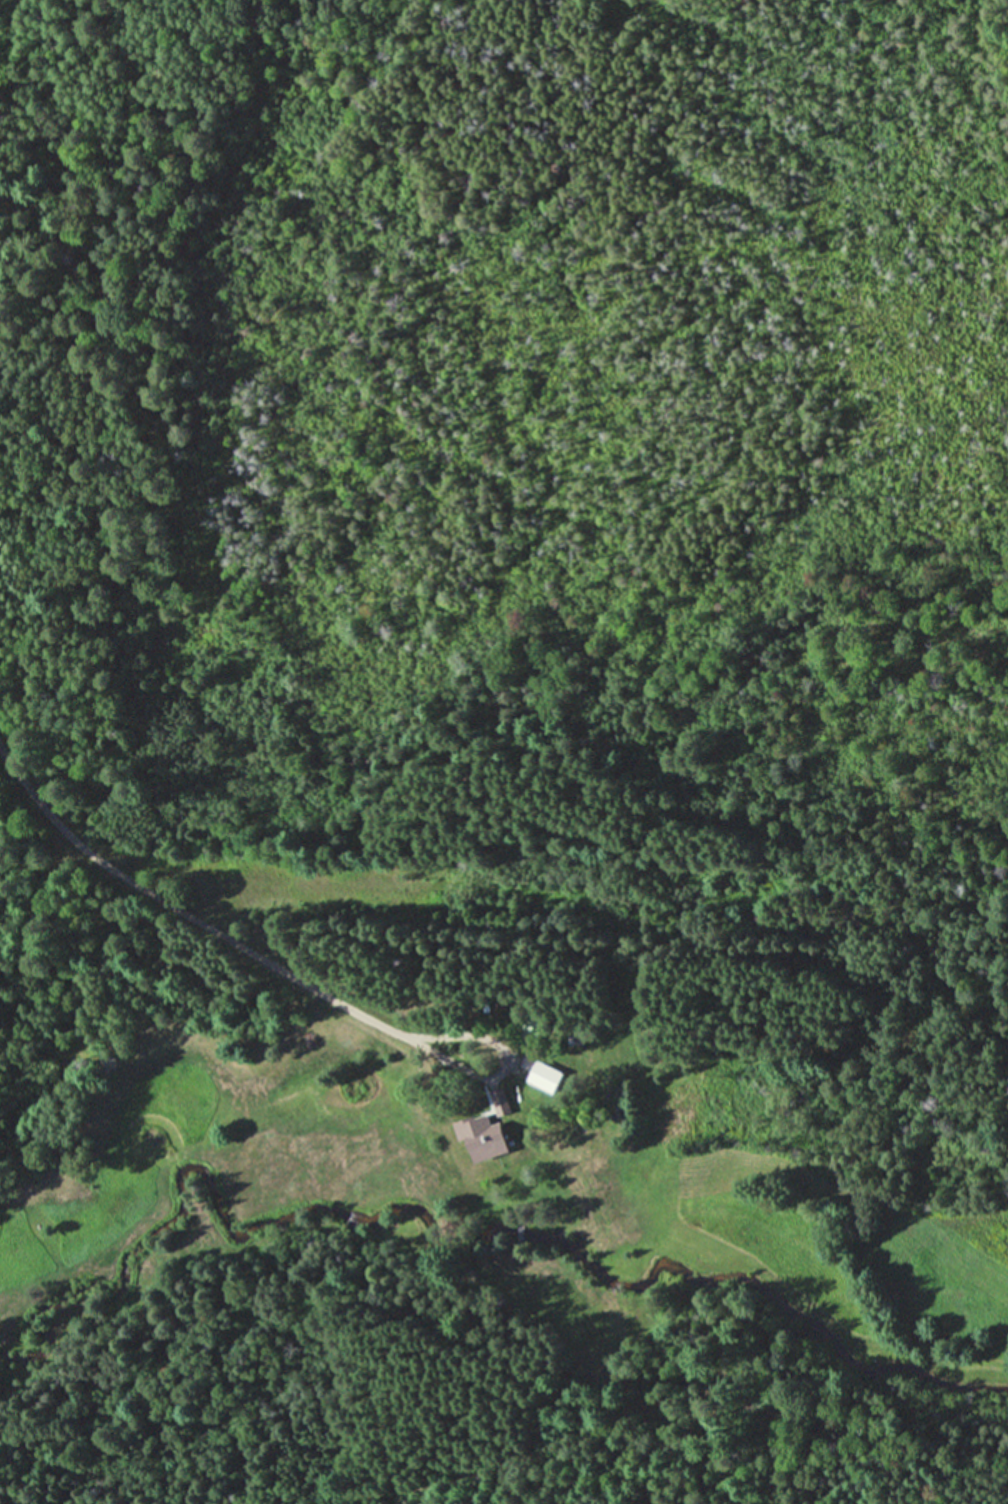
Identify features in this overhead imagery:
road: (181, 911)
road: (508, 1062)
building: (540, 1078)
building: (509, 1098)
building: (496, 1101)
building: (483, 1139)

